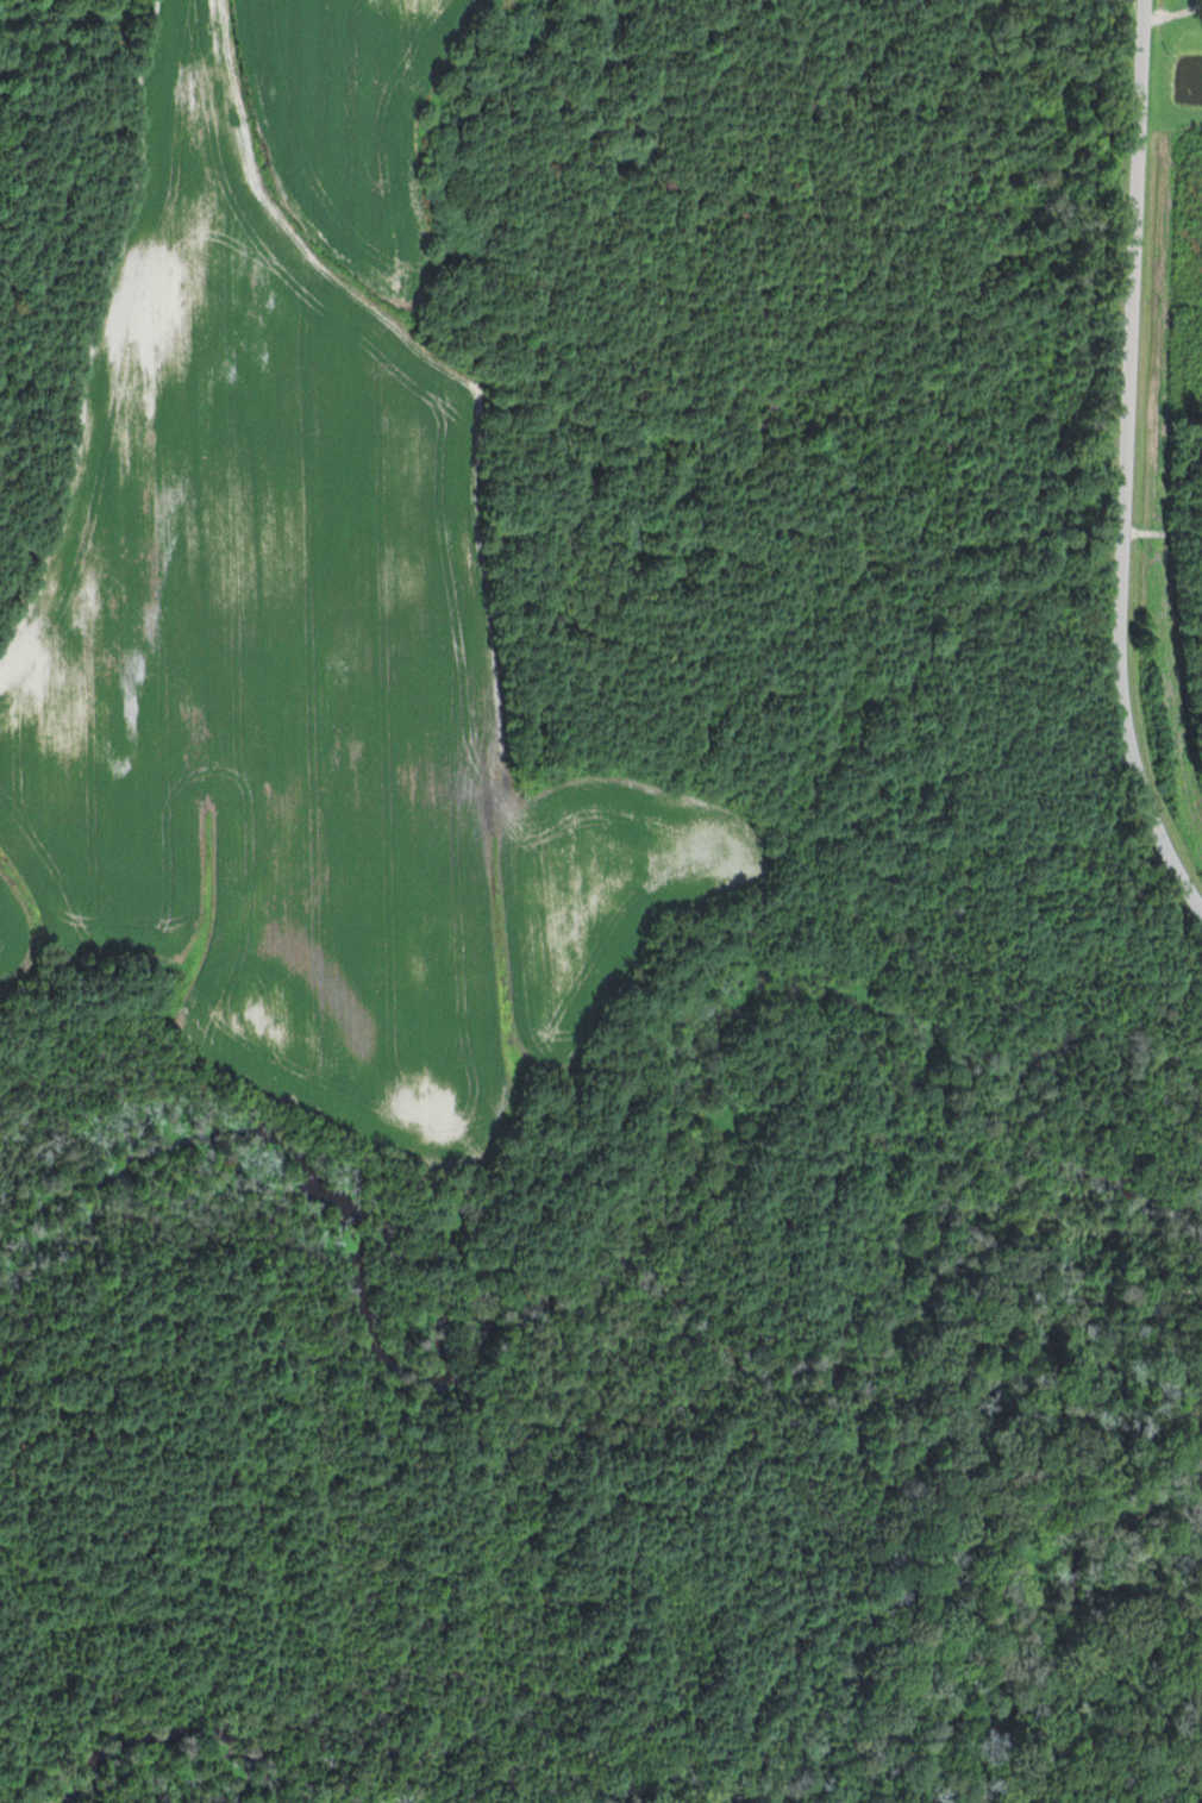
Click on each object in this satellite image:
road: (1127, 459)

